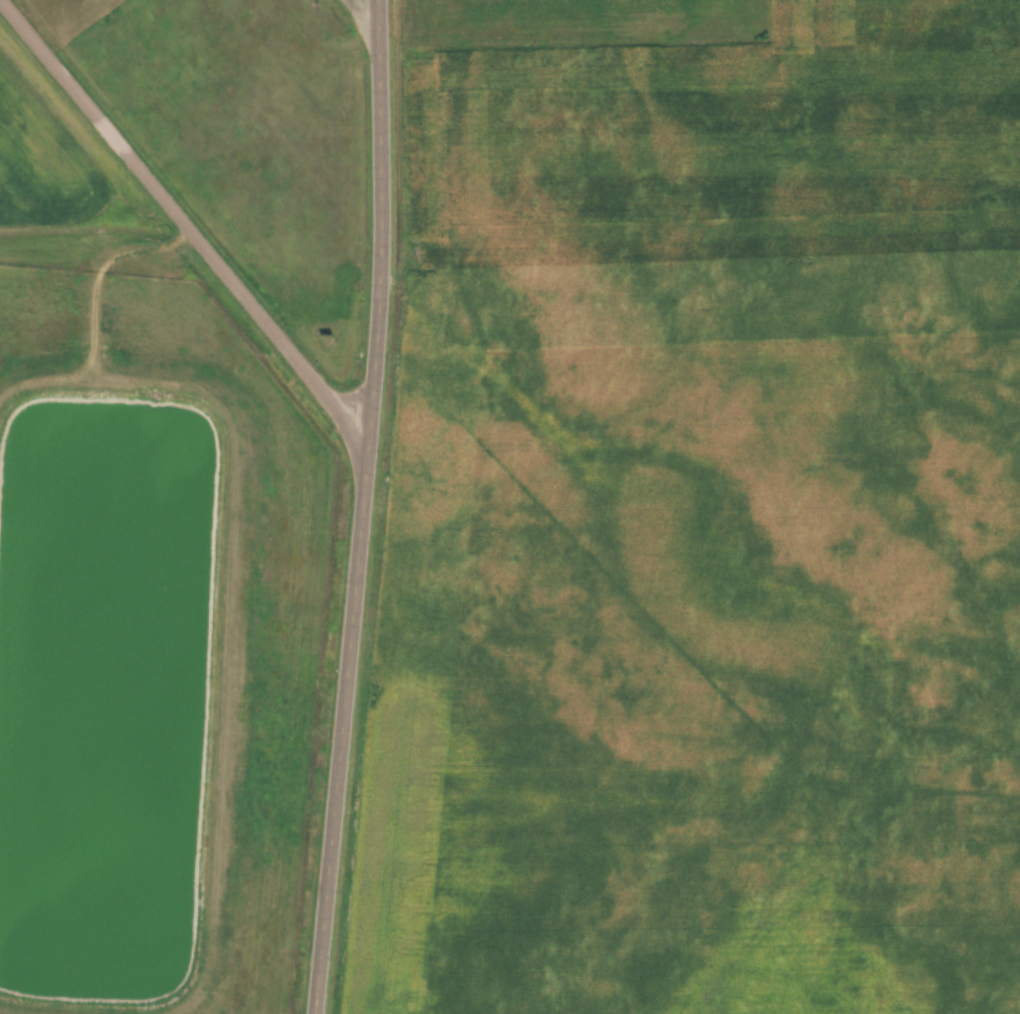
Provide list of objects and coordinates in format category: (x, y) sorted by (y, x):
road: (364, 17)
road: (183, 223)
road: (364, 507)

